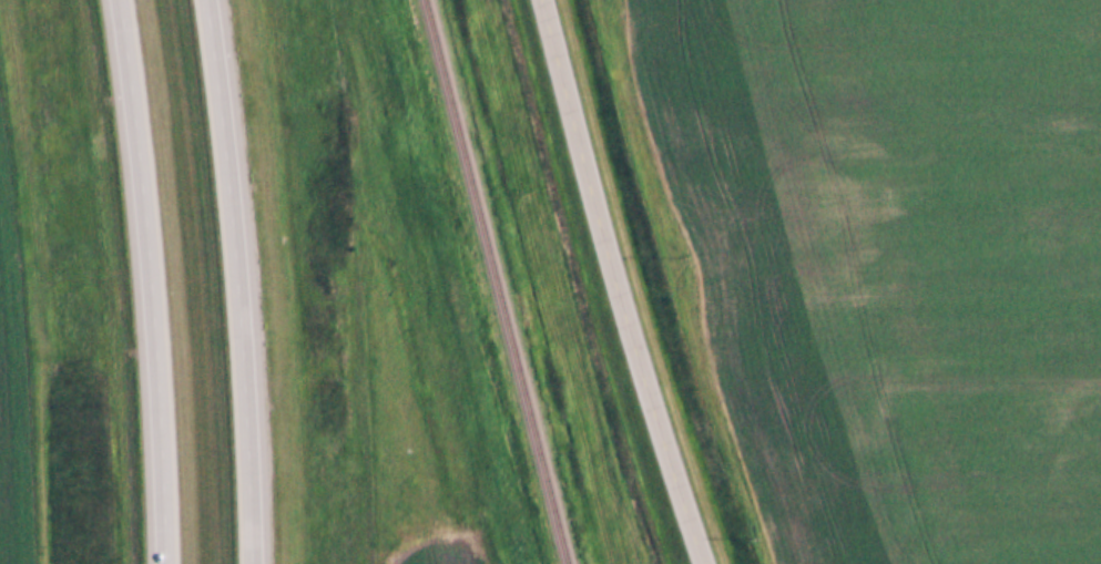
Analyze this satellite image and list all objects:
crop: (890, 263)
road: (153, 280)
road: (238, 280)
railway: (497, 281)
road: (618, 283)
crop: (16, 361)
crop: (436, 548)

